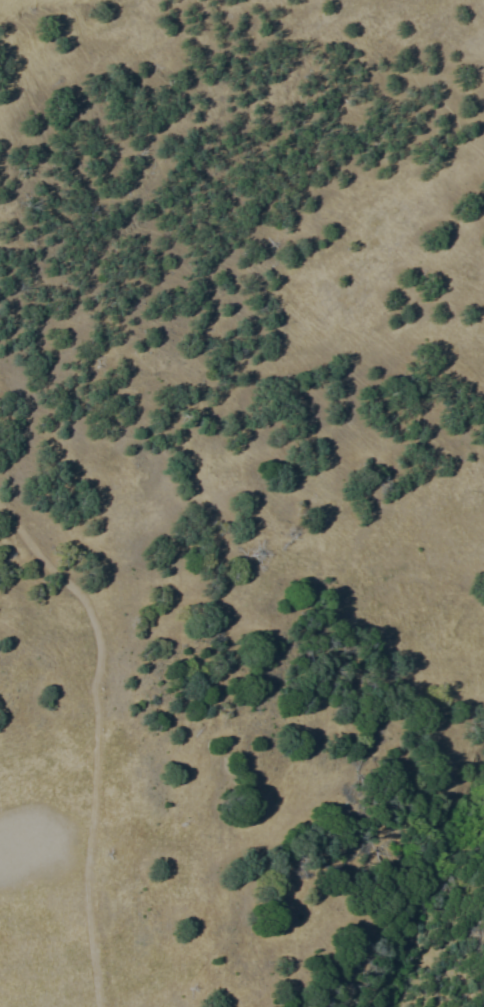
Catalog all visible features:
road: (96, 734)

